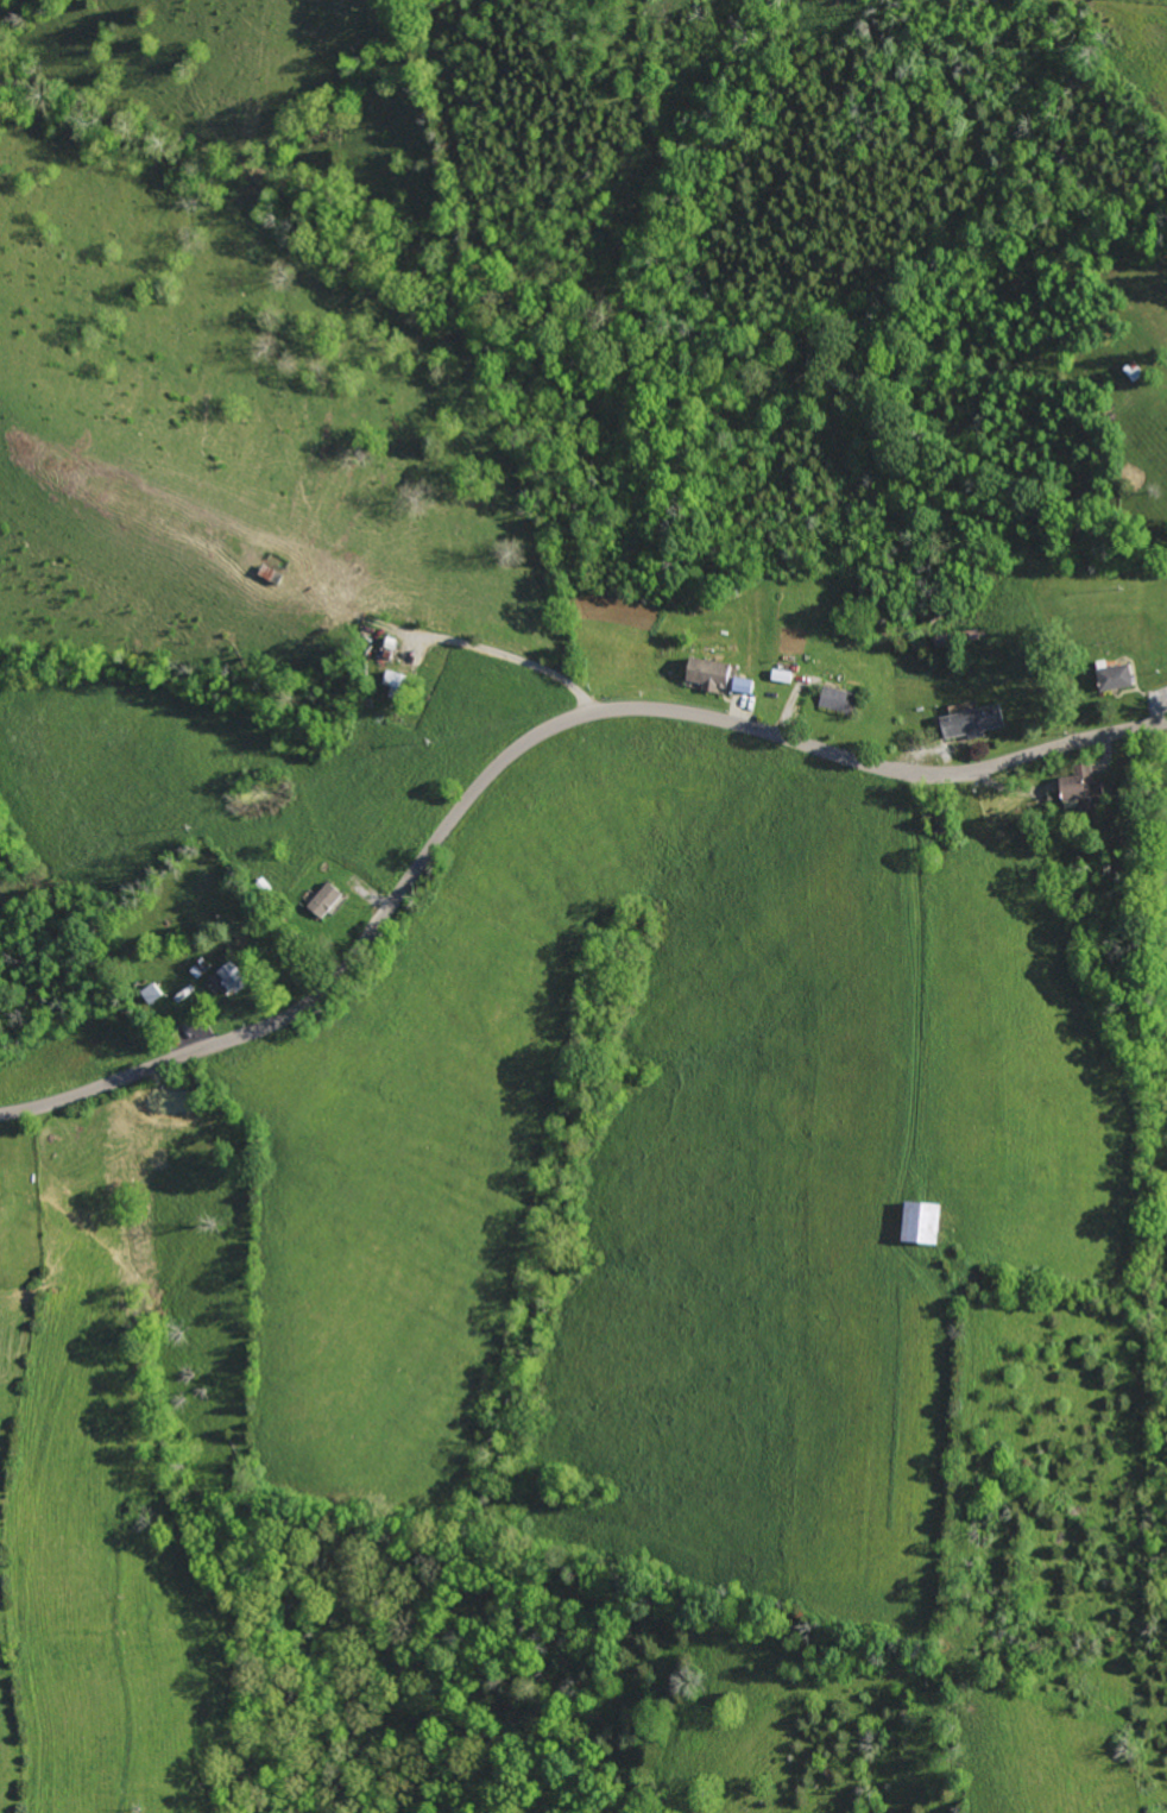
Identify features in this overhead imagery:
road: (512, 656)
building: (714, 675)
building: (1108, 676)
building: (747, 686)
building: (840, 700)
road: (523, 745)
building: (329, 899)
building: (227, 980)
building: (1, 1184)
building: (913, 1222)

